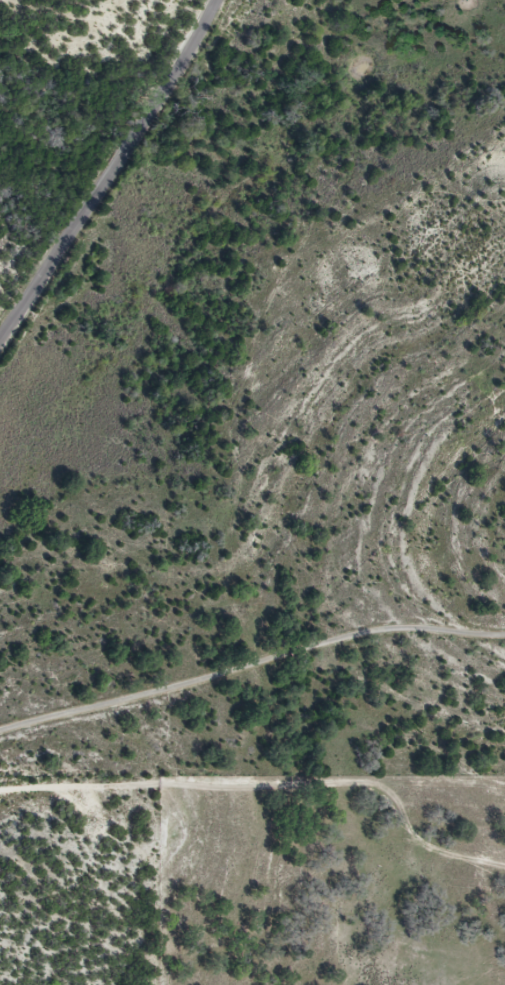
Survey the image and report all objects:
road: (112, 173)
road: (250, 669)

